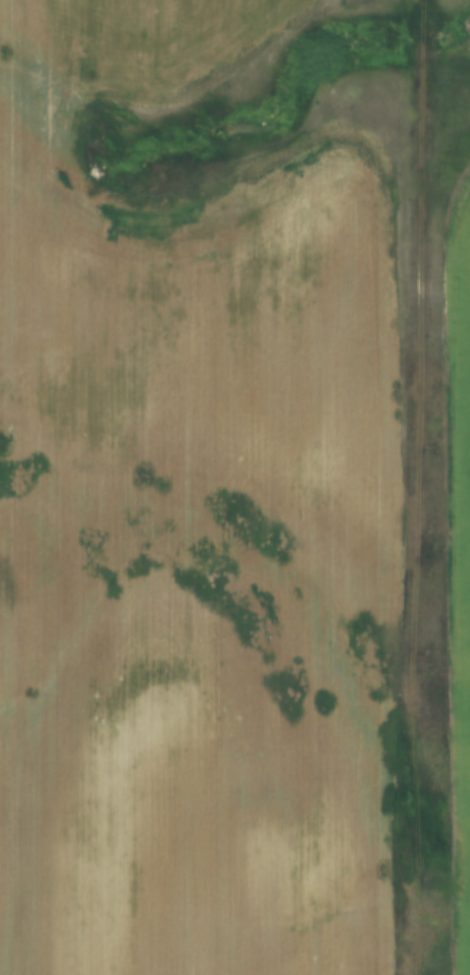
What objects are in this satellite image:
road: (418, 487)

